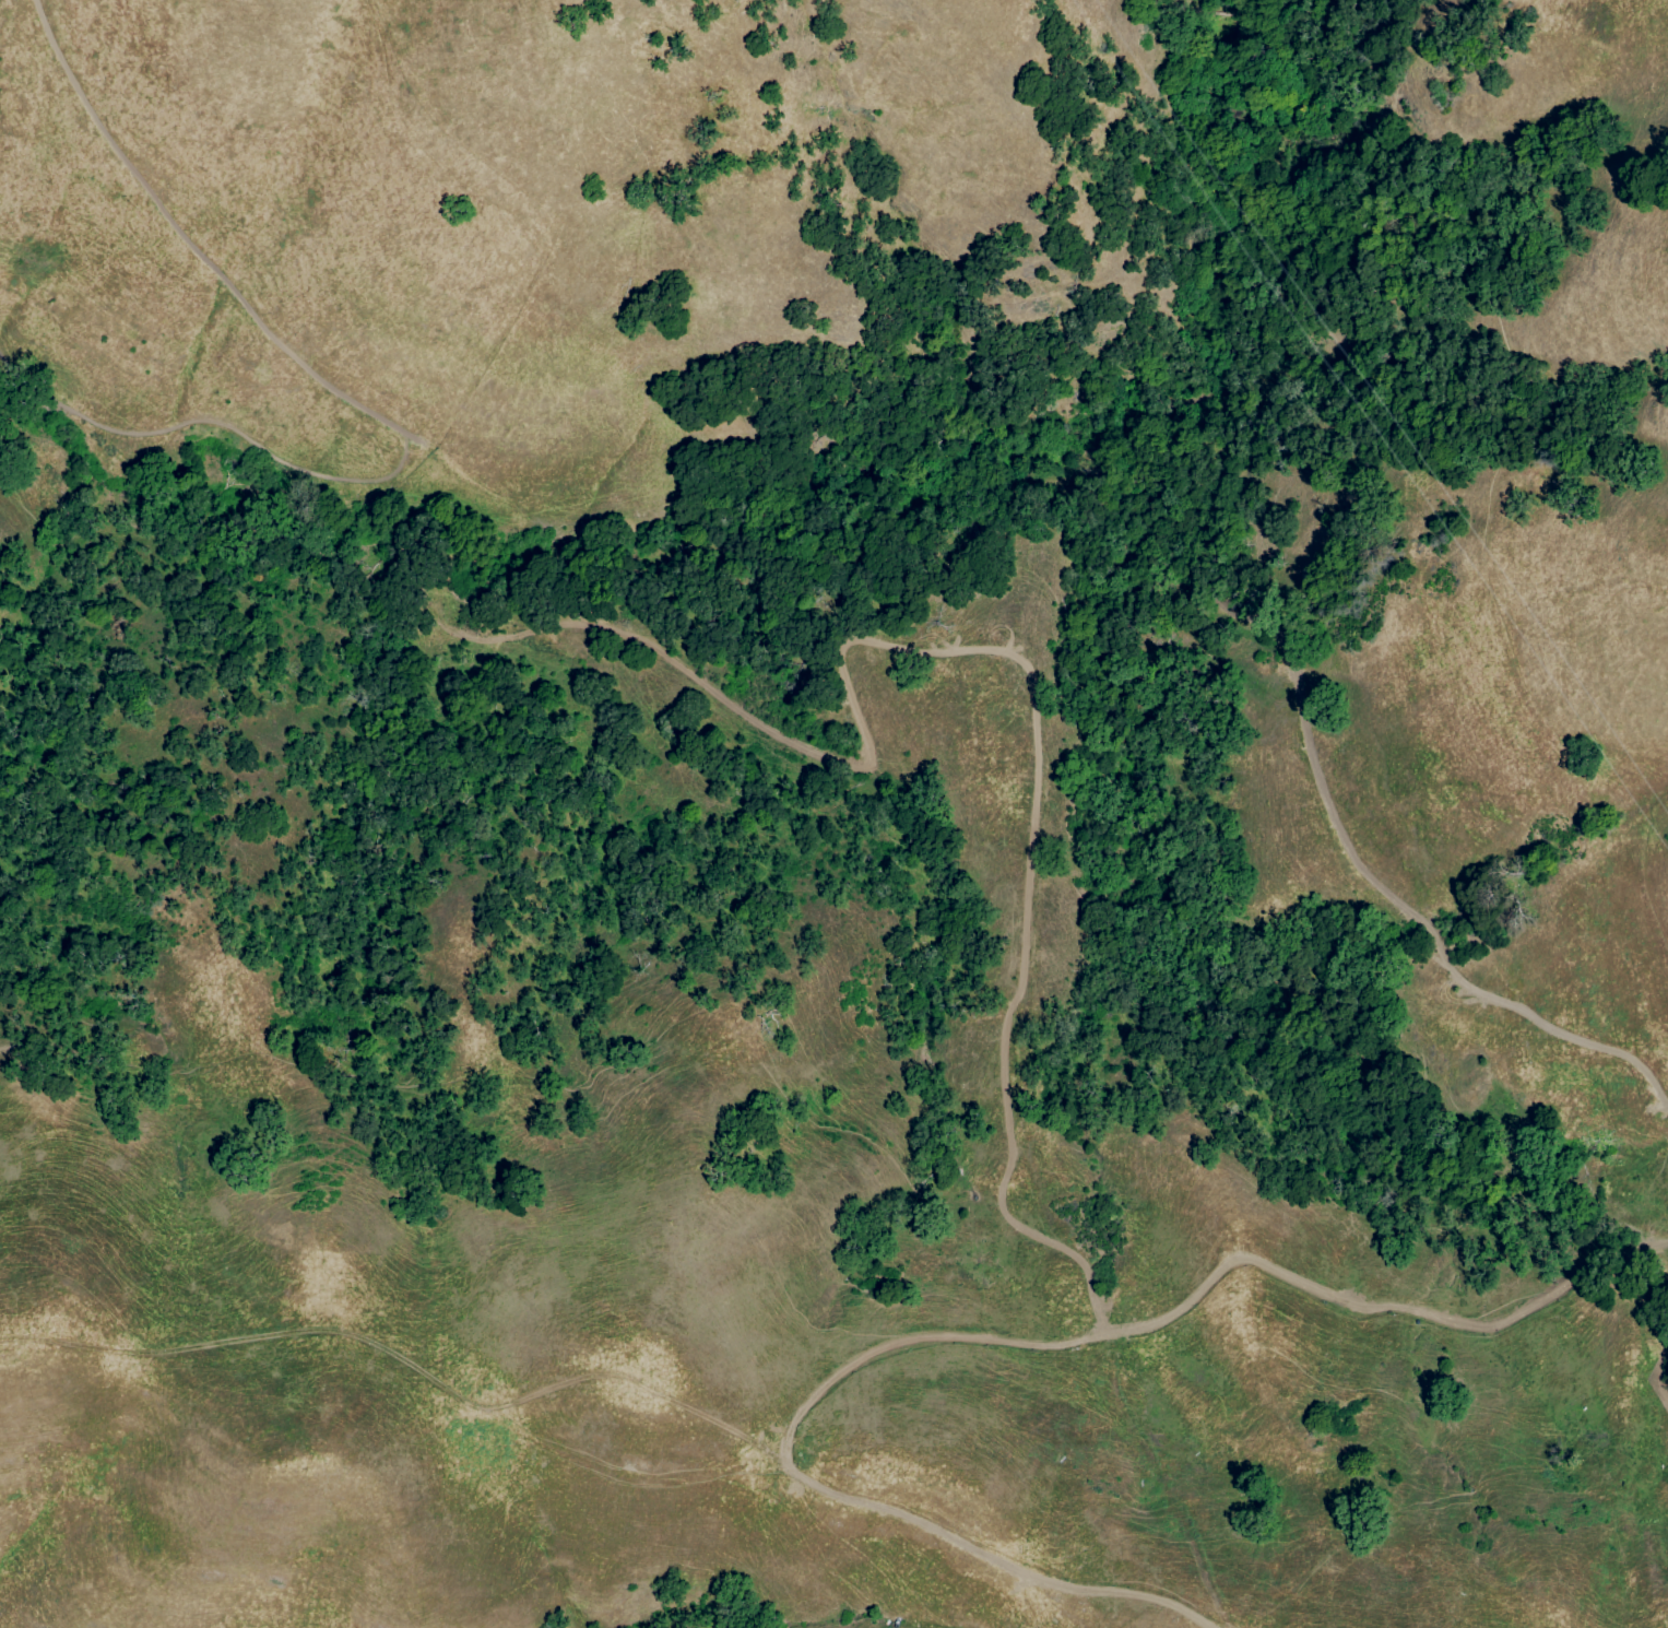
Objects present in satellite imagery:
road: (355, 408)
road: (830, 1377)

